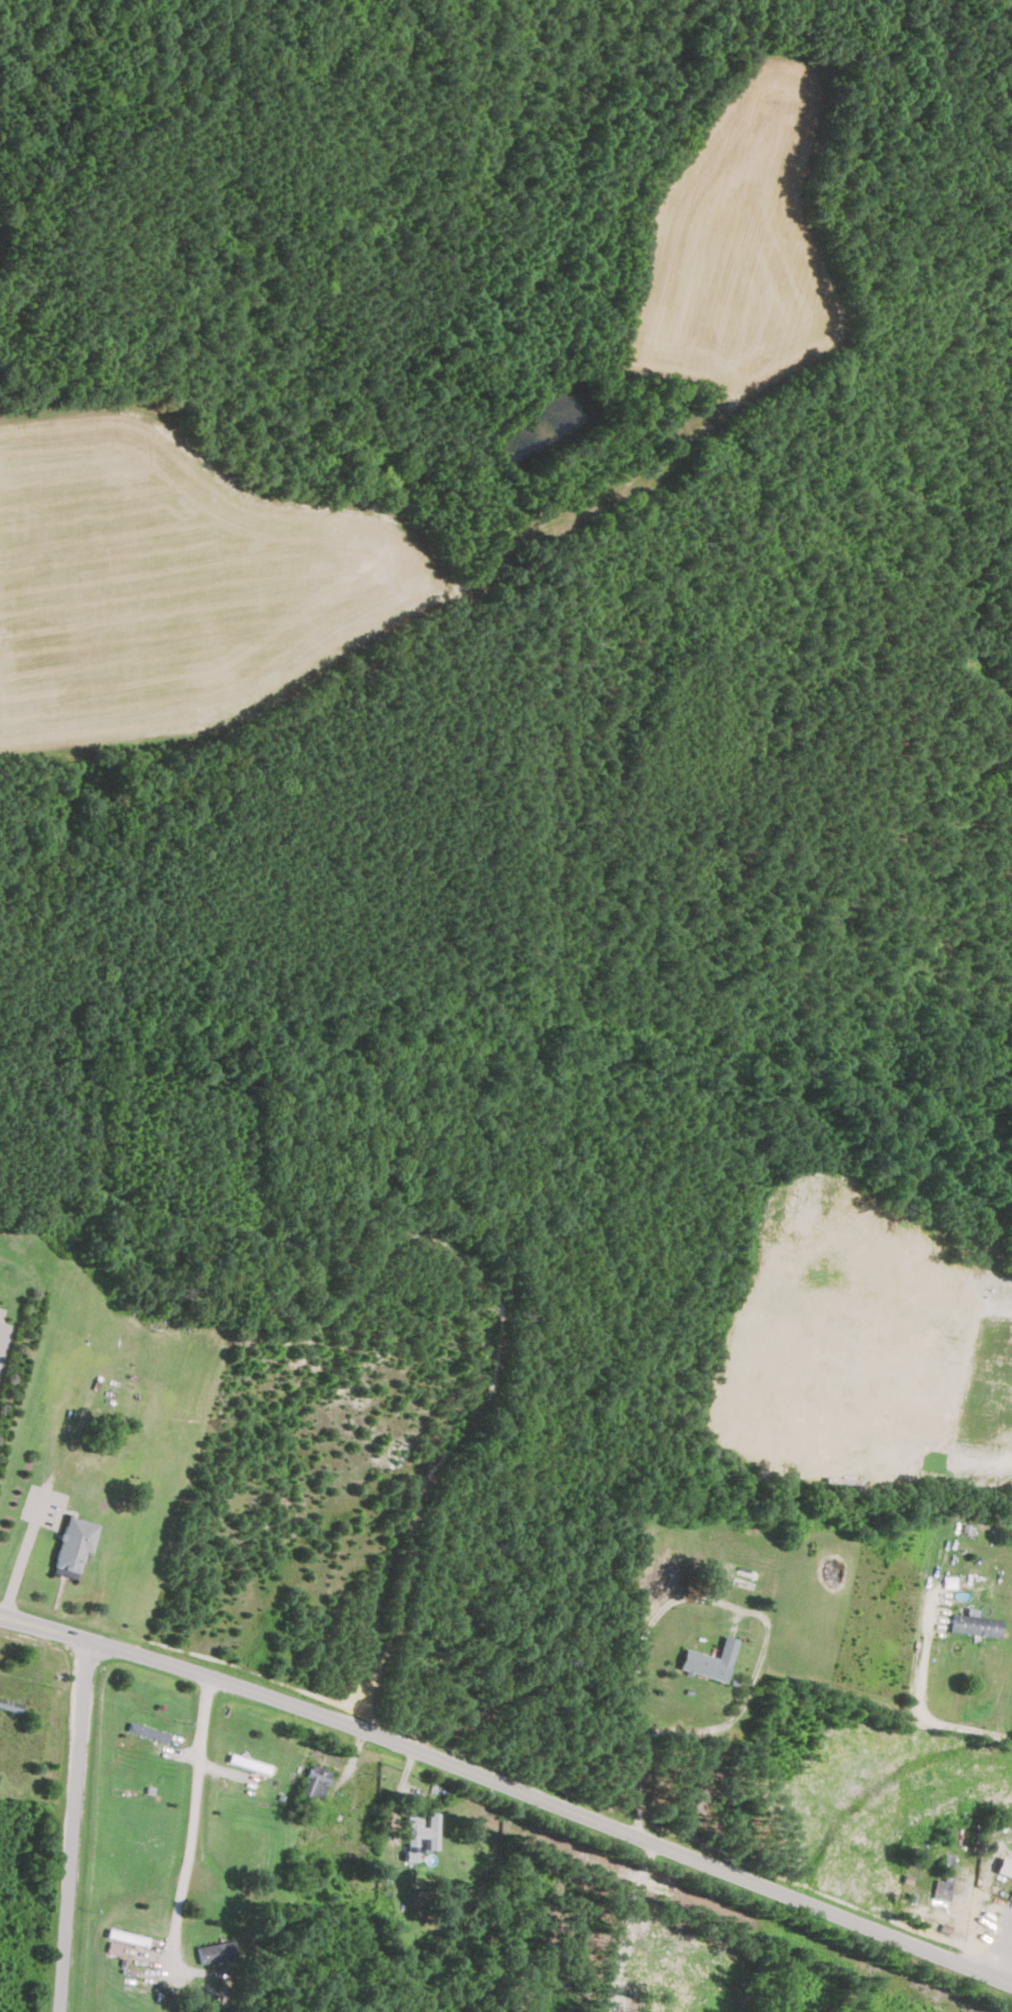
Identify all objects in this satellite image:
building: (74, 1544)
road: (20, 1561)
road: (701, 1597)
building: (709, 1661)
road: (928, 1714)
building: (148, 1732)
road: (204, 1779)
building: (315, 1781)
road: (510, 1788)
road: (81, 1826)
building: (420, 1833)
building: (309, 1869)
building: (944, 1880)
road: (623, 1926)
building: (216, 1951)

